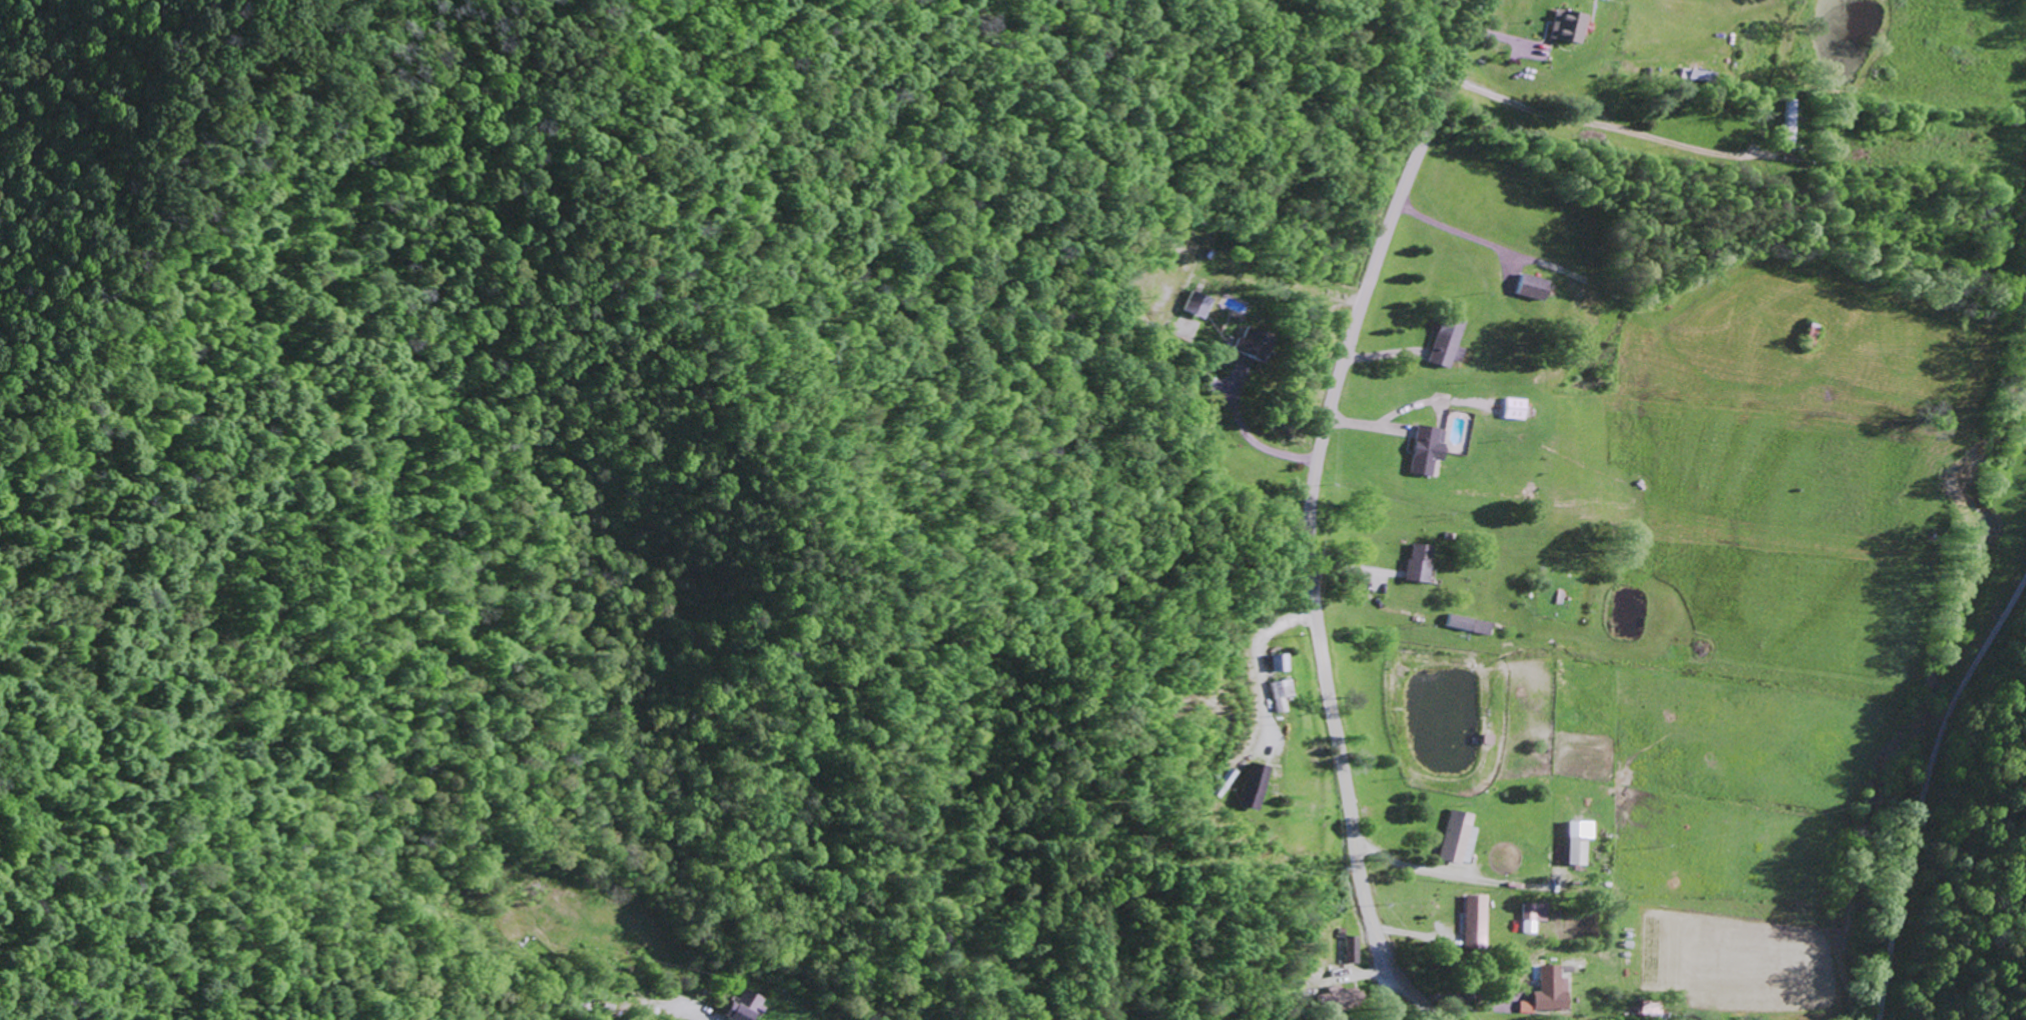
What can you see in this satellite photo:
building: (1568, 27)
building: (1700, 75)
building: (1793, 121)
road: (1612, 125)
building: (1535, 288)
building: (1201, 305)
building: (1189, 329)
building: (1449, 343)
building: (1254, 345)
building: (1518, 409)
building: (1428, 451)
road: (1311, 508)
building: (1419, 564)
building: (1470, 625)
building: (1281, 664)
building: (1283, 695)
building: (1256, 787)
road: (1927, 792)
building: (1461, 838)
building: (1580, 841)
building: (1535, 911)
building: (1478, 922)
building: (1356, 949)
building: (1576, 963)
road: (1386, 982)
building: (1550, 991)
building: (1343, 999)
building: (744, 1007)

